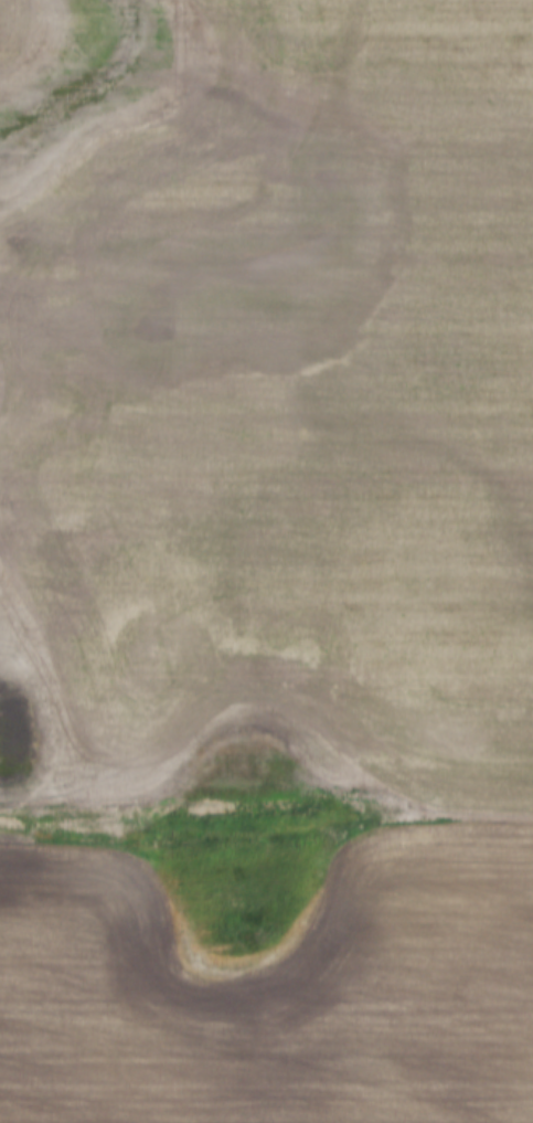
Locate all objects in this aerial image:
road: (266, 820)

